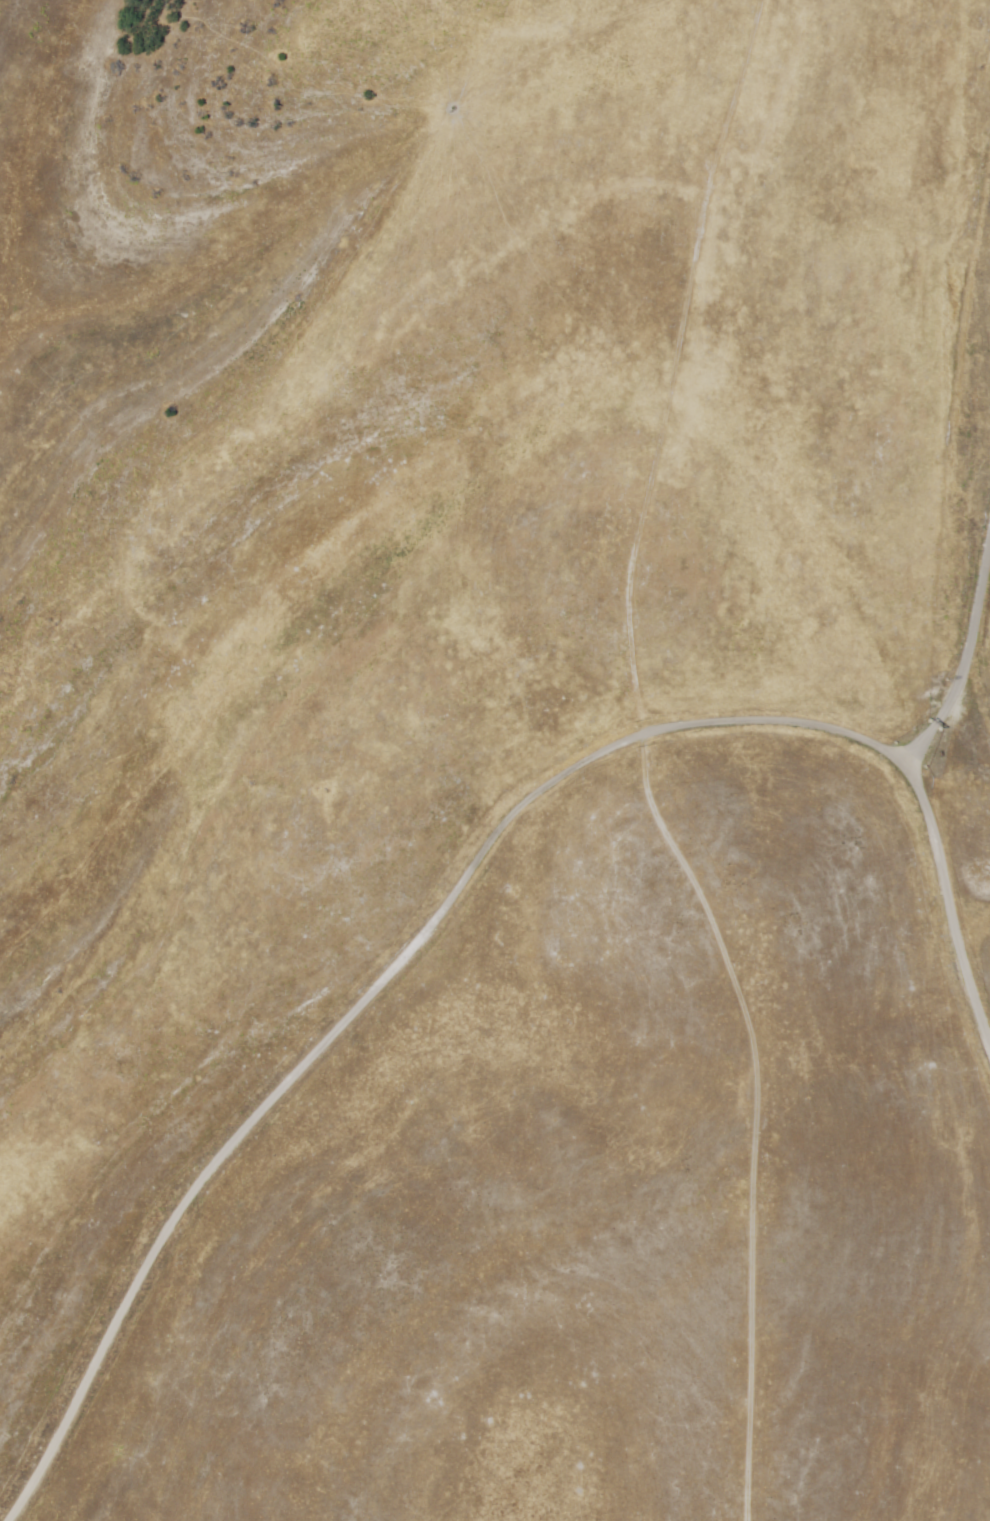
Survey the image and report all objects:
road: (971, 808)
road: (465, 886)

